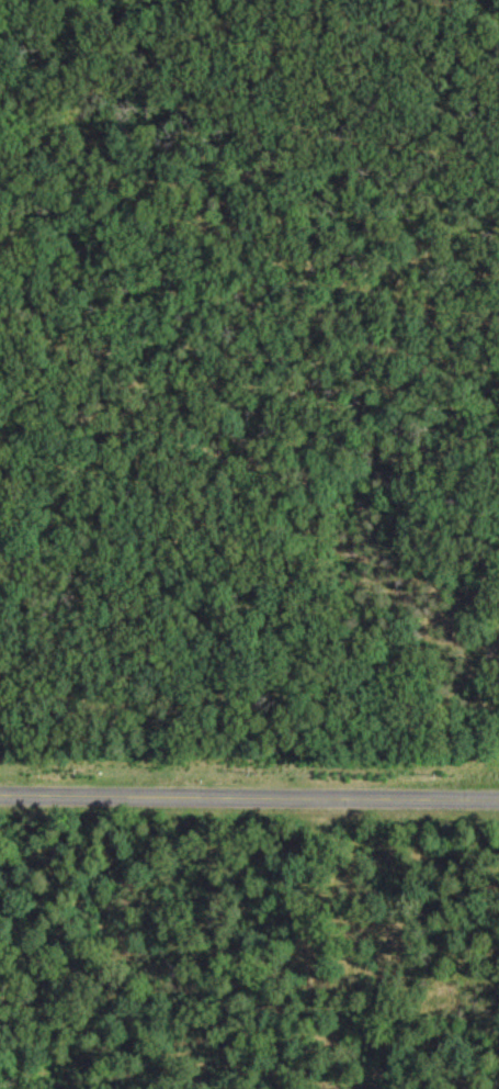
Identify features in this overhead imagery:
road: (249, 796)

